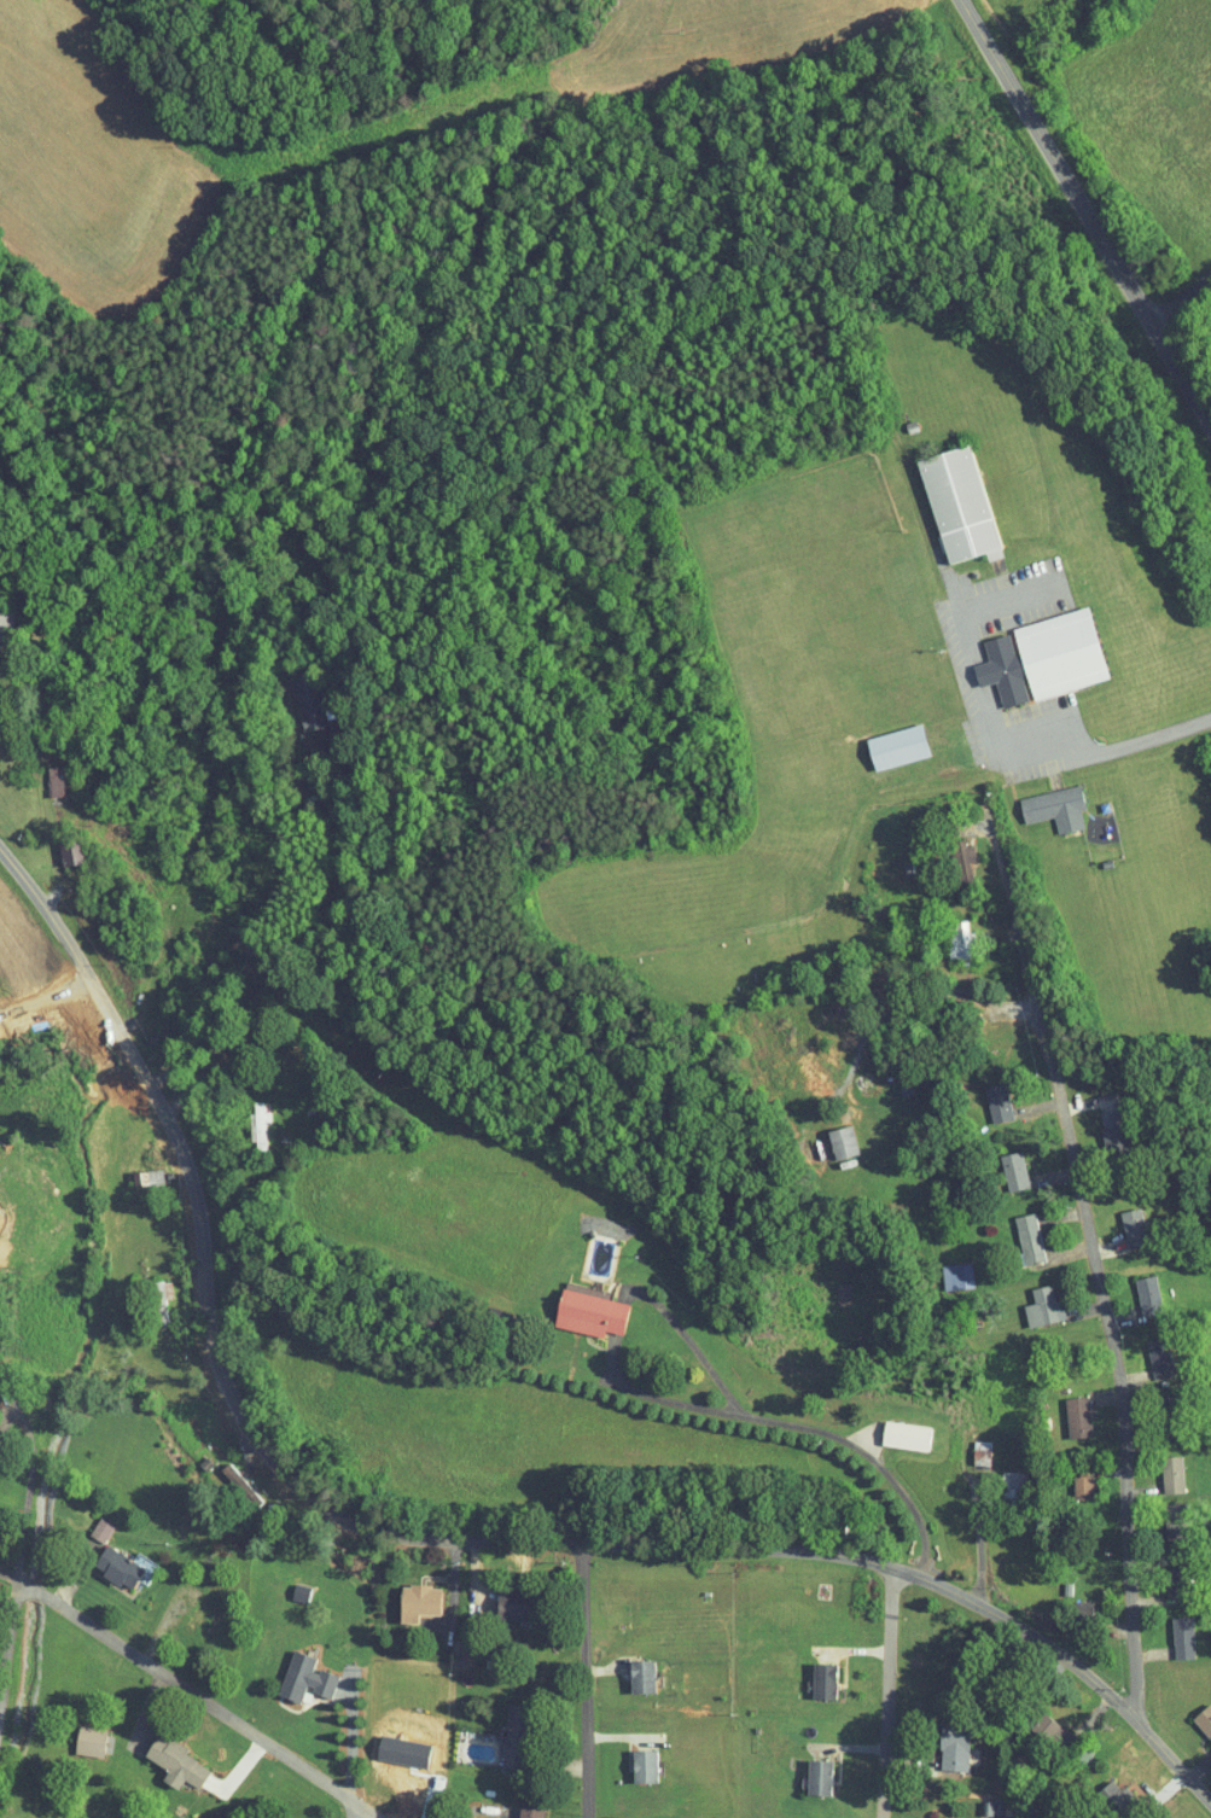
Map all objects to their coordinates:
road: (979, 27)
road: (1017, 91)
road: (1124, 274)
road: (1181, 297)
building: (944, 499)
building: (1029, 651)
building: (297, 693)
road: (1142, 736)
building: (883, 740)
building: (41, 774)
building: (1041, 802)
building: (54, 846)
building: (947, 851)
building: (944, 932)
road: (293, 942)
building: (983, 1095)
building: (244, 1118)
building: (1100, 1120)
building: (828, 1135)
building: (1000, 1163)
building: (136, 1170)
building: (1119, 1220)
building: (1014, 1230)
building: (942, 1269)
building: (1134, 1287)
building: (146, 1293)
building: (1029, 1299)
building: (575, 1306)
road: (1106, 1325)
road: (693, 1346)
building: (1146, 1351)
building: (1064, 1410)
road: (796, 1427)
building: (891, 1428)
building: (967, 1445)
building: (1157, 1467)
building: (996, 1476)
building: (225, 1478)
building: (1067, 1480)
road: (11, 1491)
building: (86, 1523)
road: (433, 1539)
building: (104, 1561)
road: (4, 1584)
building: (285, 1586)
building: (404, 1595)
building: (495, 1597)
building: (1069, 1600)
building: (1168, 1630)
building: (627, 1668)
building: (290, 1670)
building: (809, 1673)
road: (587, 1680)
road: (889, 1692)
road: (193, 1694)
building: (1198, 1718)
building: (1034, 1723)
building: (500, 1731)
building: (75, 1733)
road: (353, 1738)
building: (939, 1741)
building: (161, 1755)
building: (629, 1759)
building: (804, 1770)
building: (1096, 1788)
building: (511, 1810)
road: (353, 1811)
building: (931, 1816)

